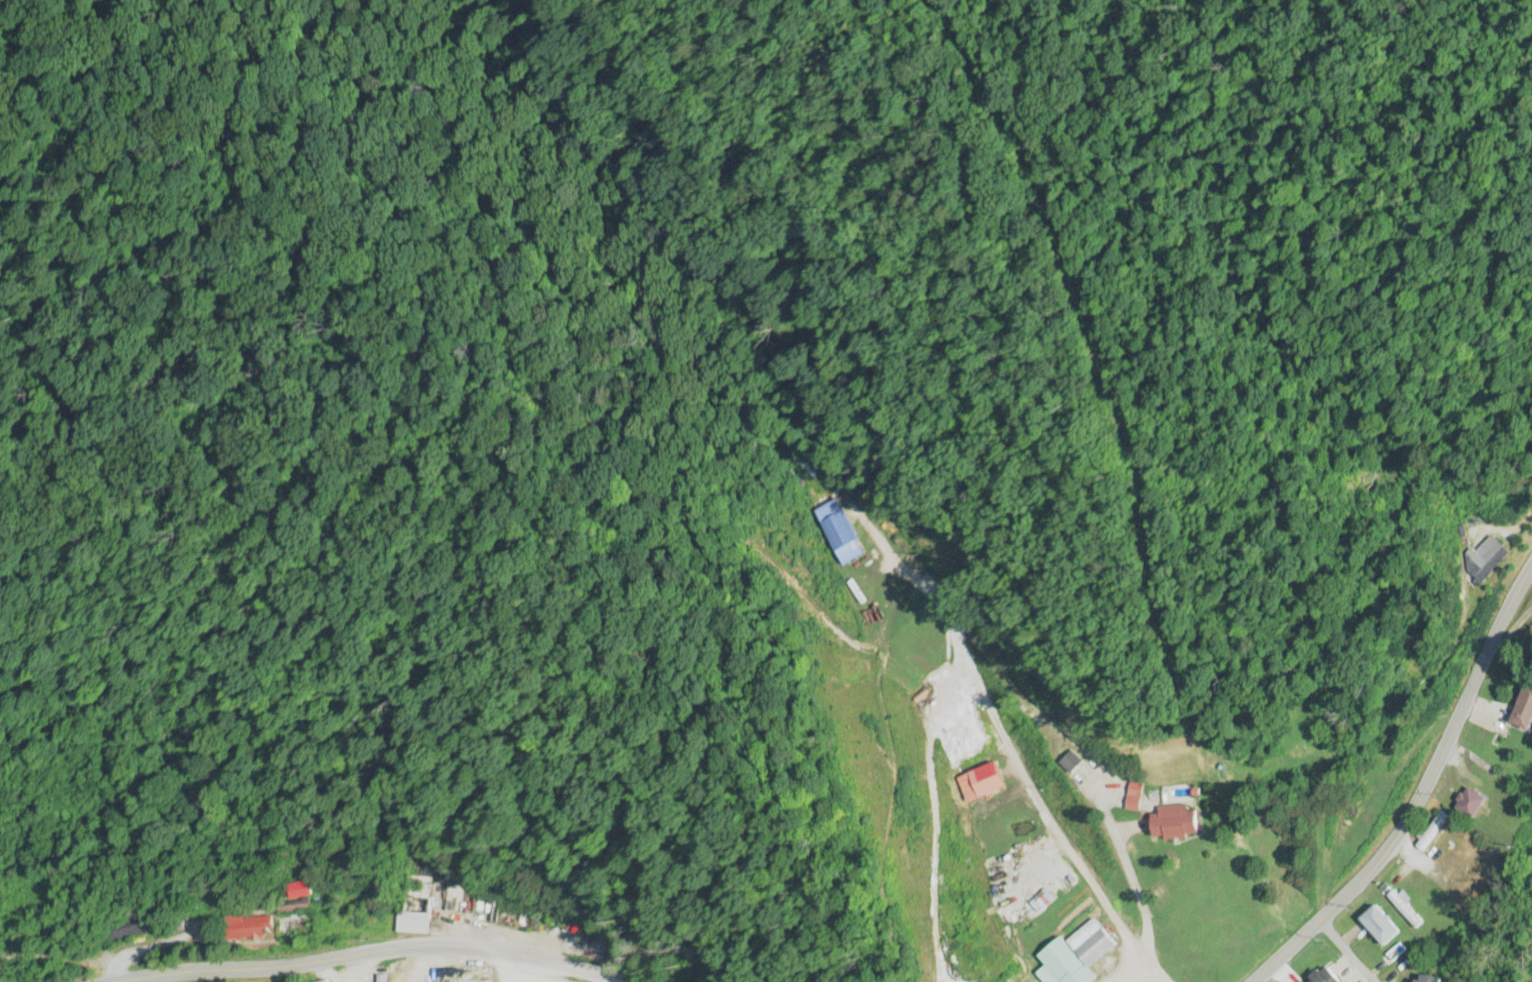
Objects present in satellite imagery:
building: (841, 533)
building: (1493, 549)
building: (1525, 711)
building: (1073, 763)
road: (1421, 793)
building: (1136, 798)
building: (1471, 804)
building: (1176, 823)
building: (1432, 833)
building: (1449, 850)
building: (1469, 868)
building: (418, 887)
building: (296, 899)
building: (453, 899)
building: (1405, 911)
building: (415, 923)
building: (1381, 926)
building: (247, 928)
building: (1092, 944)
road: (1348, 949)
road: (372, 954)
building: (1399, 954)
building: (1326, 976)
building: (1429, 980)

